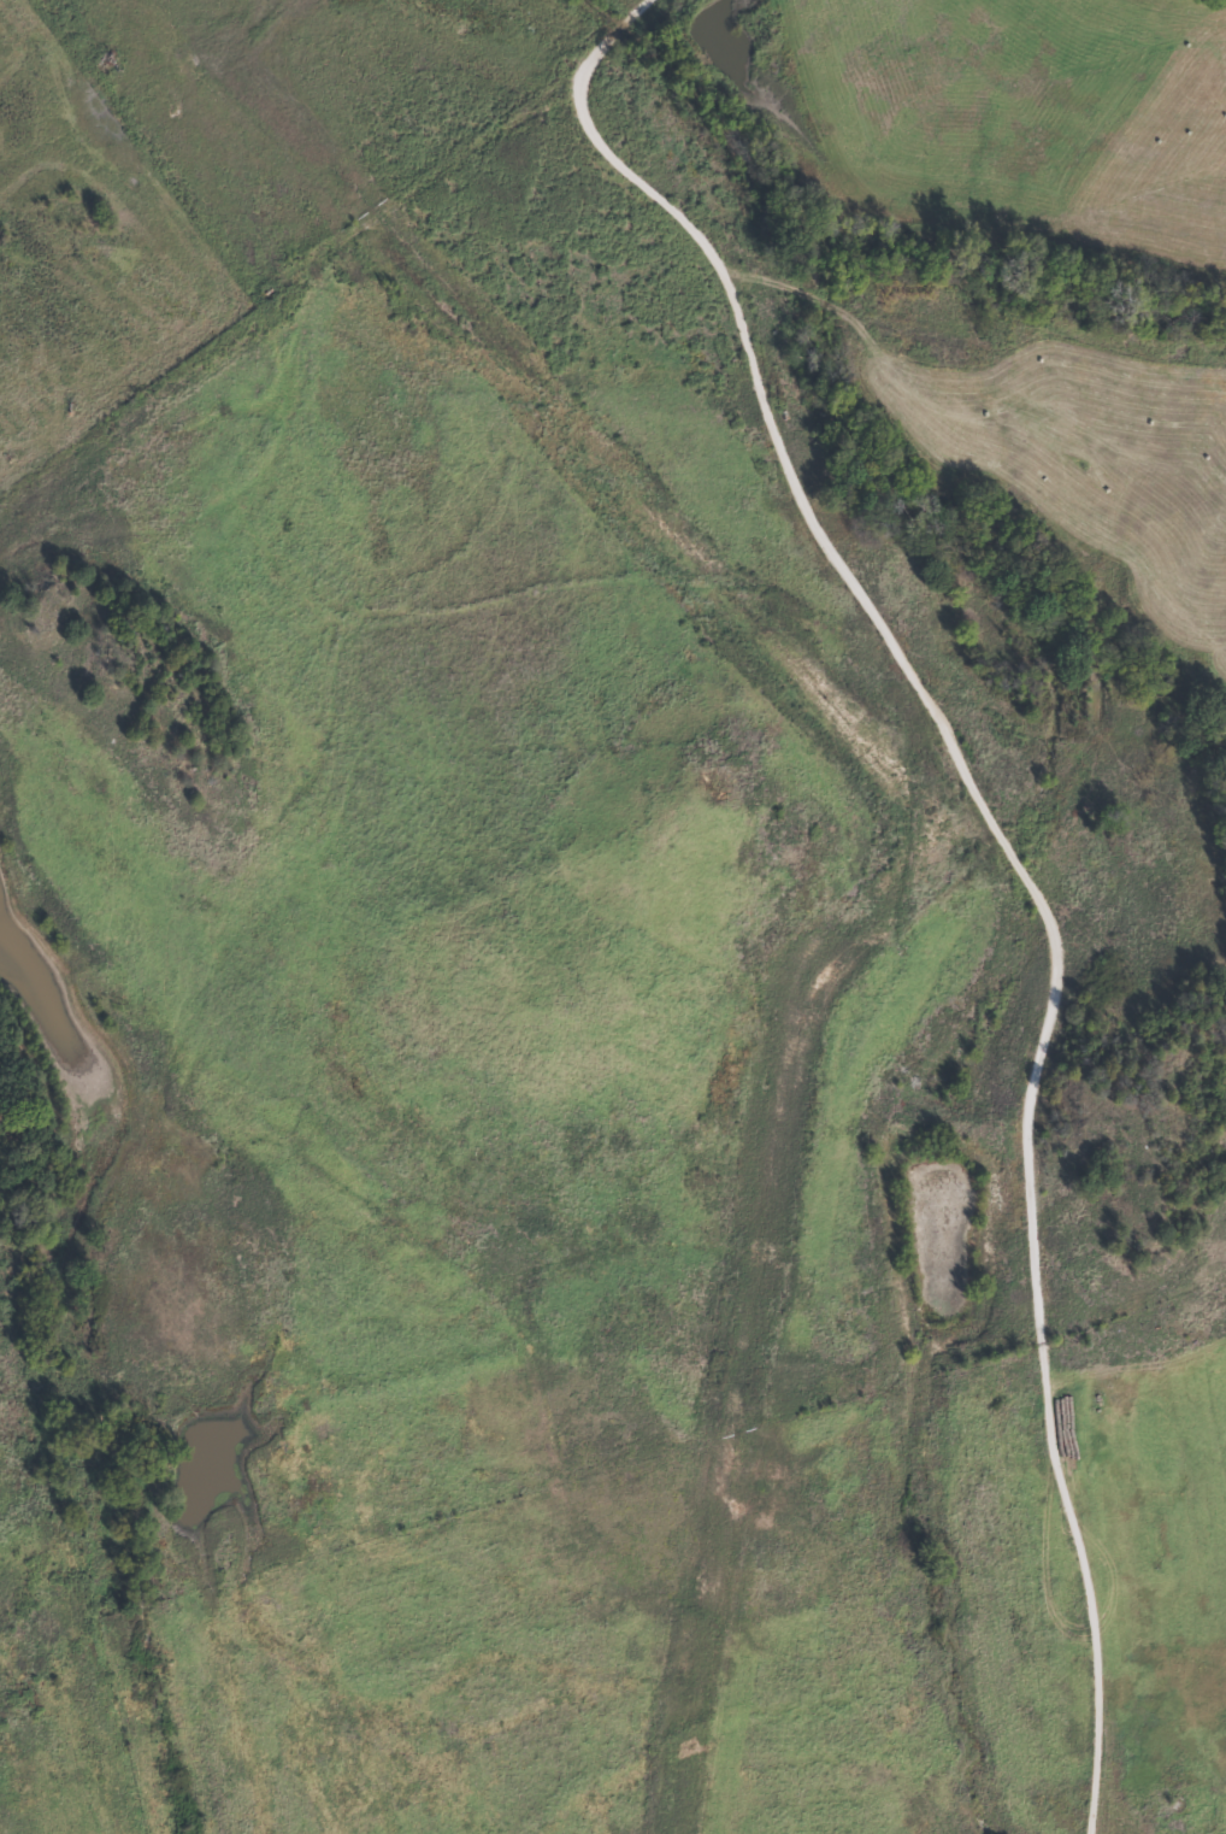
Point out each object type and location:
road: (1007, 846)

